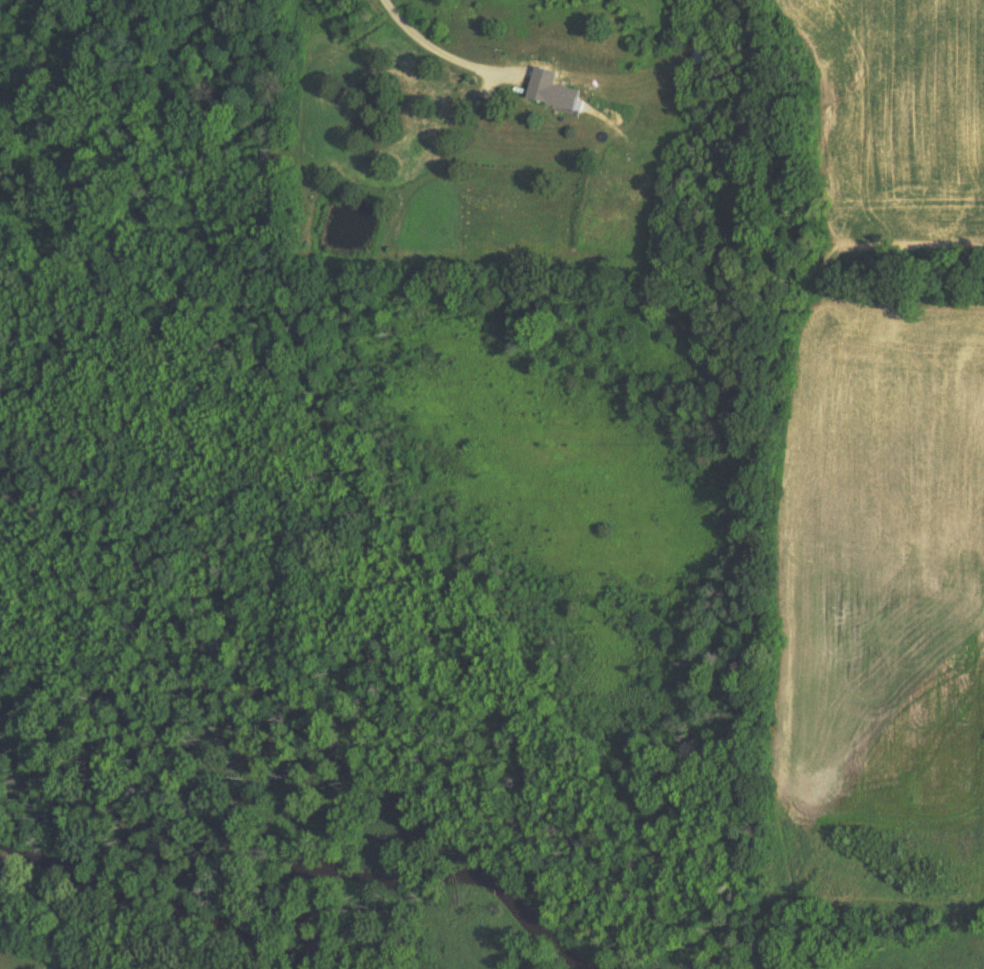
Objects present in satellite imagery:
road: (430, 48)
building: (563, 97)
building: (660, 149)

